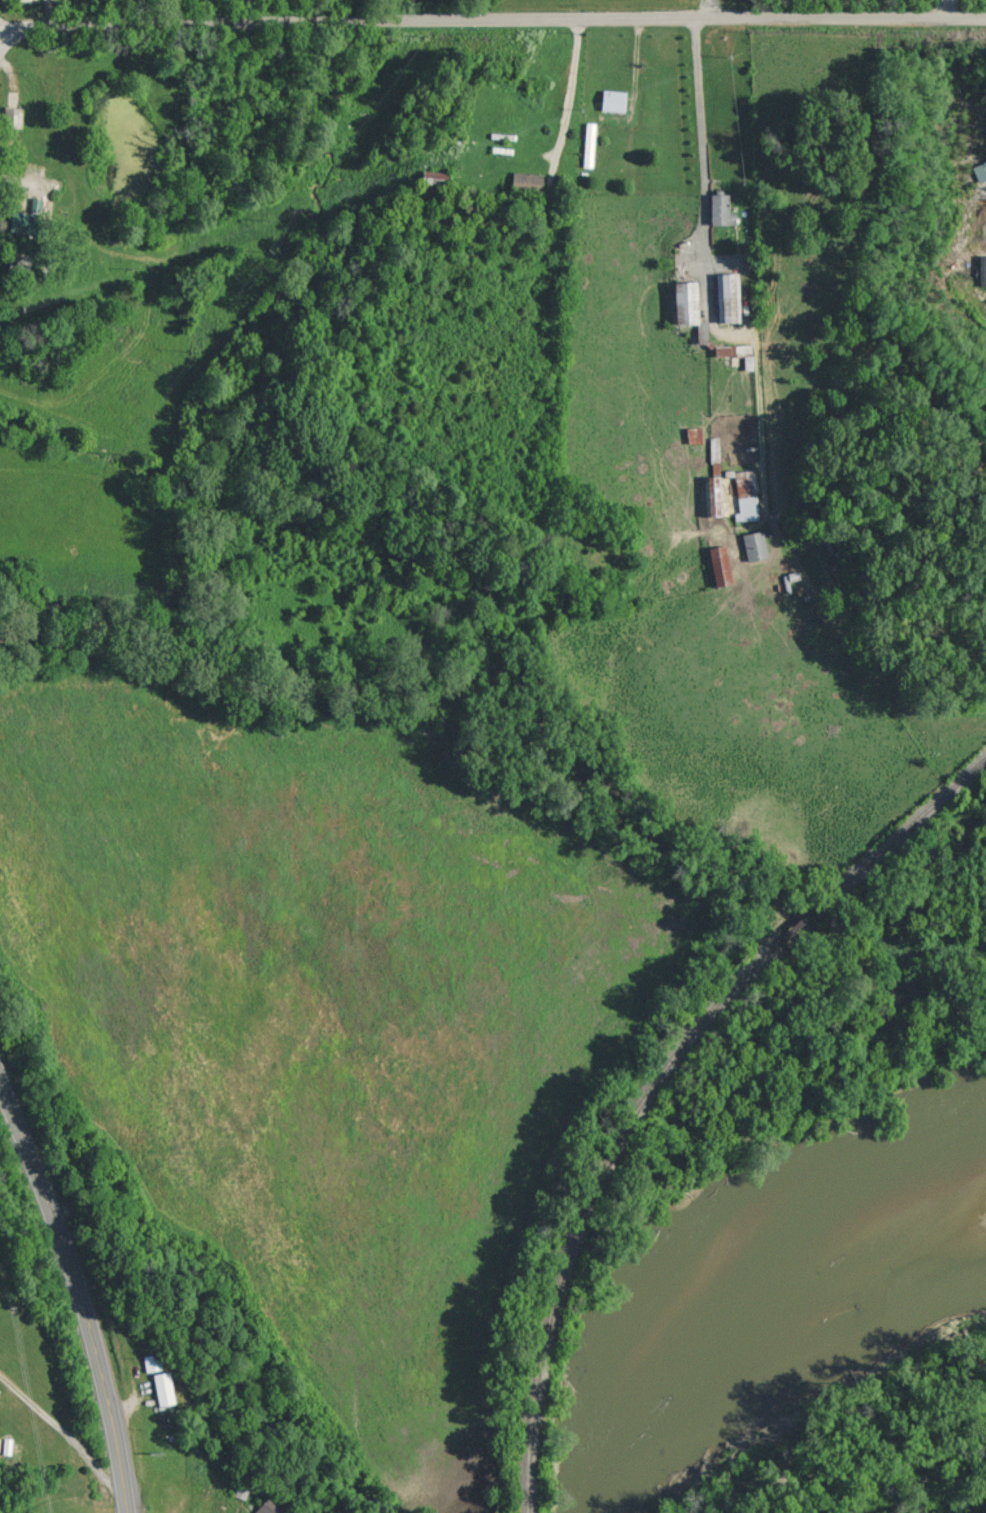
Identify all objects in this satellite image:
road: (492, 21)
road: (568, 94)
building: (613, 100)
building: (12, 116)
road: (702, 143)
building: (980, 170)
building: (433, 176)
building: (527, 180)
building: (721, 209)
building: (983, 269)
building: (726, 296)
building: (689, 307)
building: (715, 495)
building: (746, 495)
building: (755, 545)
building: (720, 565)
railway: (900, 834)
railway: (792, 930)
railway: (586, 1206)
river: (729, 1261)
road: (80, 1292)
building: (152, 1362)
building: (163, 1388)
road: (66, 1434)
building: (268, 1507)

